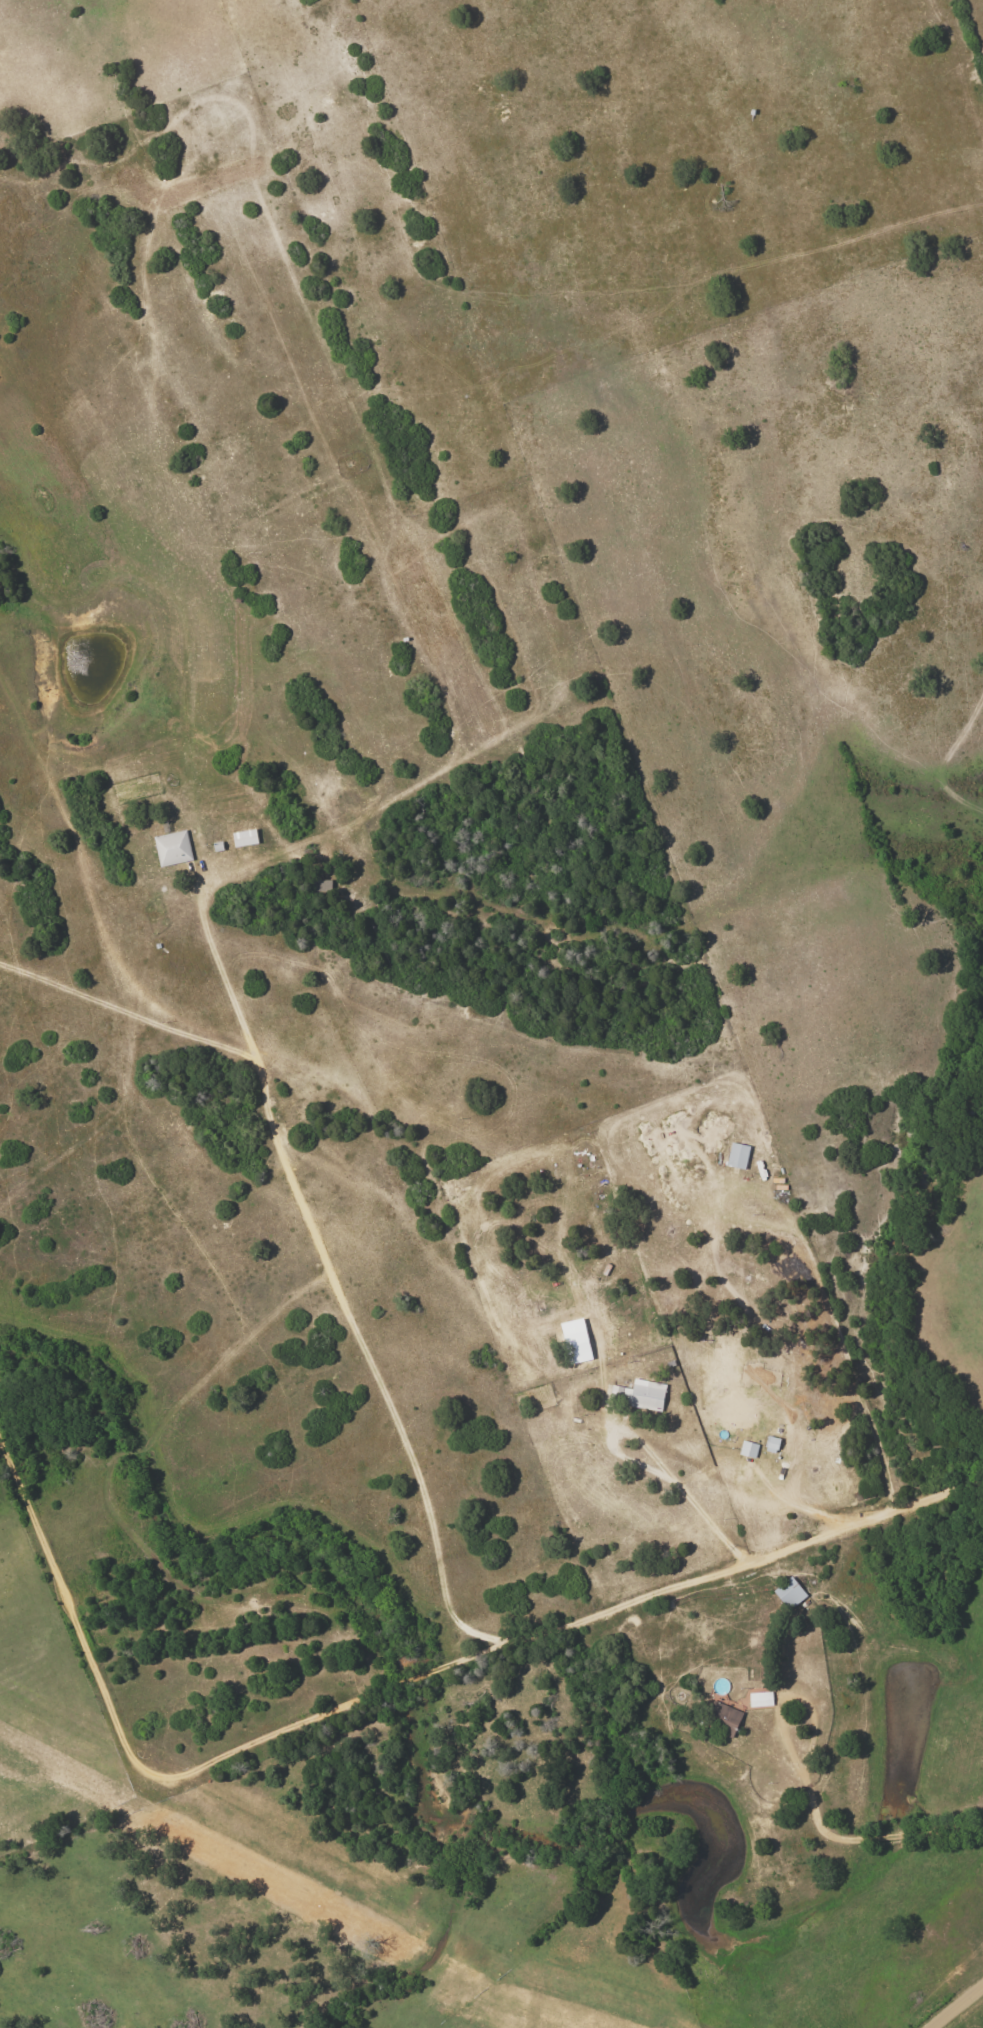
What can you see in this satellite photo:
road: (424, 517)
building: (172, 848)
road: (753, 982)
road: (224, 987)
building: (737, 1156)
road: (314, 1245)
building: (639, 1395)
building: (735, 1411)
building: (771, 1445)
building: (748, 1449)
road: (656, 1460)
road: (794, 1506)
building: (789, 1593)
road: (391, 1690)
building: (760, 1700)
building: (723, 1715)
road: (844, 1845)
road: (957, 2006)

